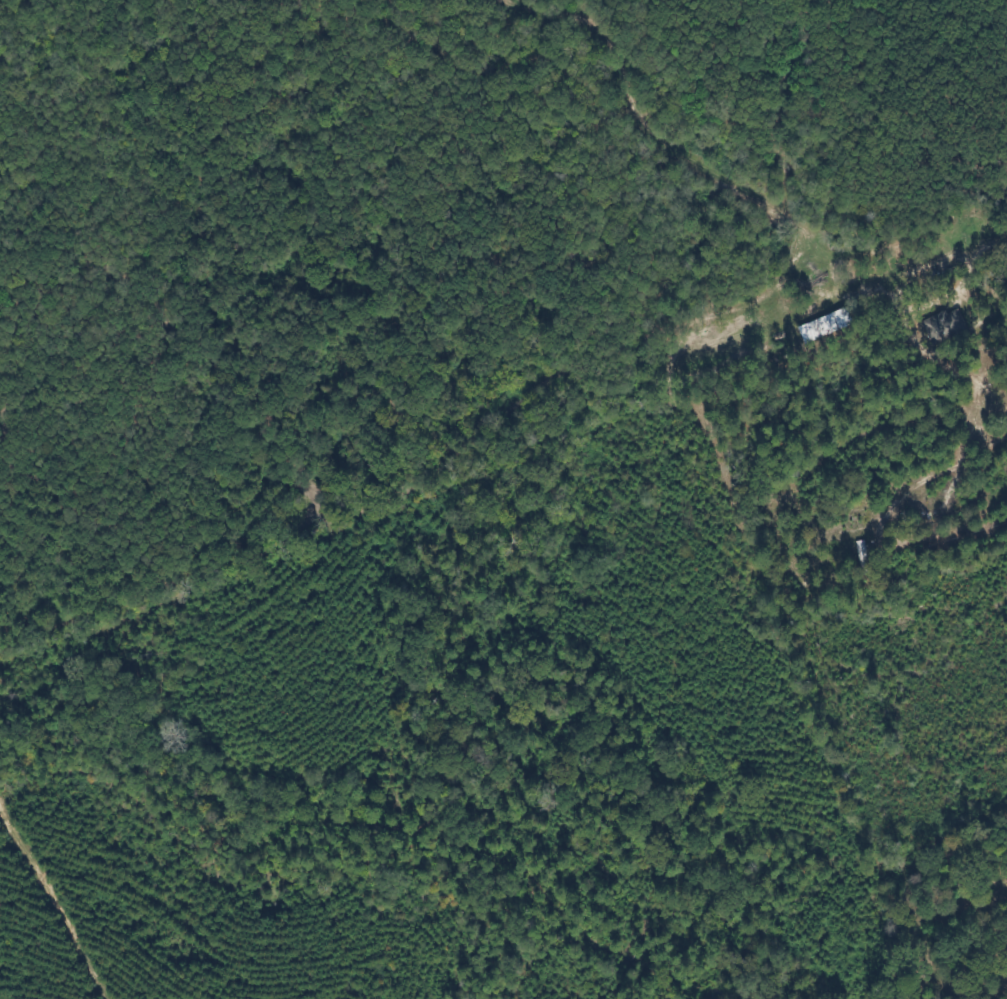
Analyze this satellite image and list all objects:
building: (832, 323)

